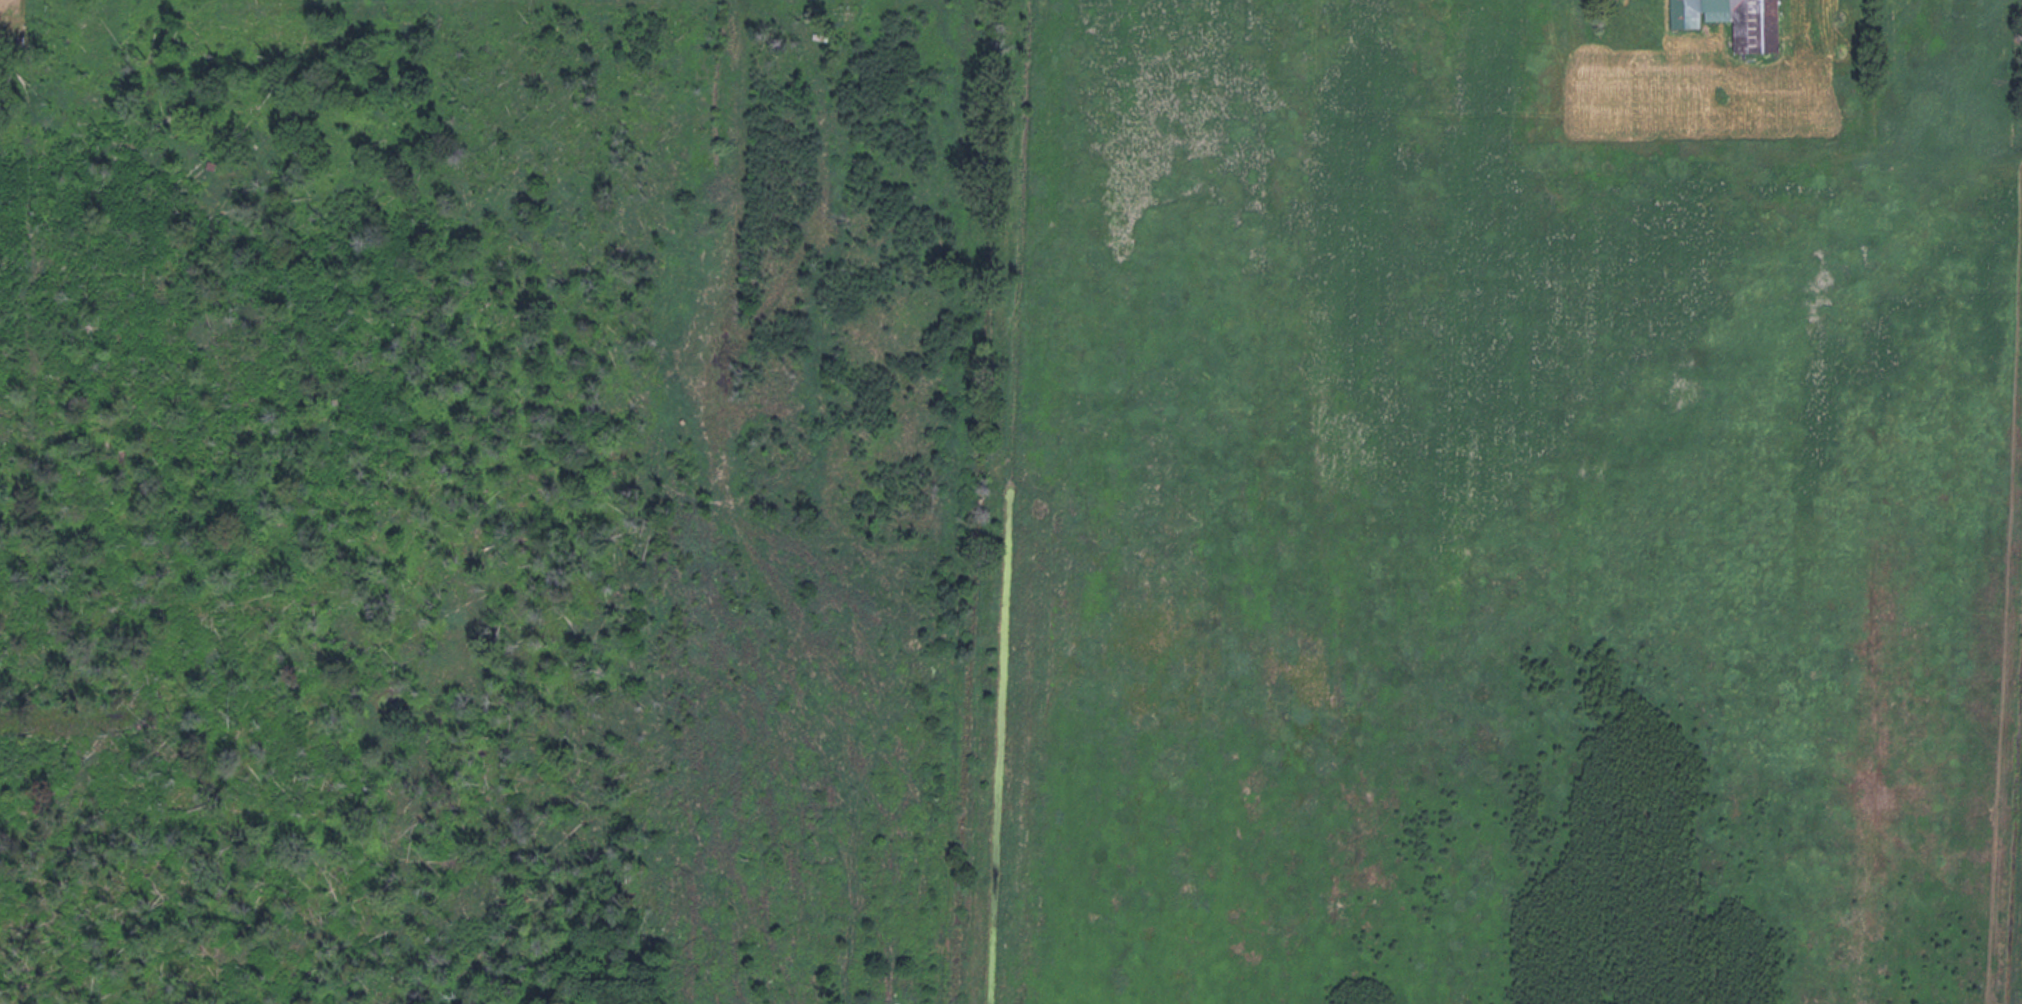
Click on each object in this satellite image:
building: (1733, 20)

